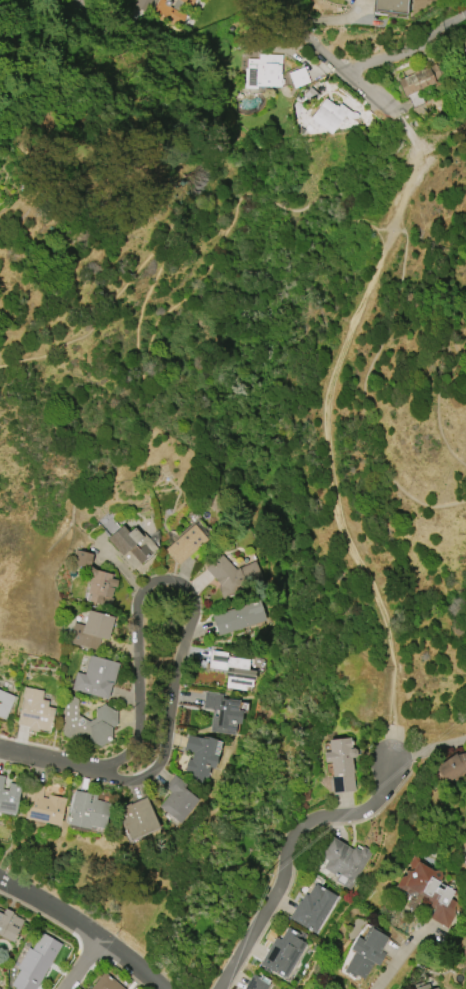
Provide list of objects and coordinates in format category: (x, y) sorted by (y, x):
building: (170, 0)
building: (145, 2)
building: (190, 4)
building: (390, 7)
building: (169, 12)
road: (452, 20)
road: (395, 56)
road: (335, 61)
building: (263, 71)
building: (298, 77)
building: (418, 79)
building: (310, 95)
building: (329, 115)
road: (146, 351)
road: (327, 431)
building: (185, 543)
building: (131, 545)
building: (81, 559)
building: (232, 577)
building: (101, 585)
road: (185, 586)
building: (238, 617)
building: (91, 630)
building: (233, 670)
building: (96, 677)
building: (5, 703)
building: (35, 711)
building: (223, 713)
building: (88, 722)
road: (426, 724)
road: (427, 750)
building: (200, 756)
road: (50, 760)
building: (340, 765)
building: (451, 767)
building: (9, 796)
building: (177, 799)
building: (42, 805)
building: (87, 810)
building: (137, 818)
road: (289, 855)
building: (344, 862)
building: (432, 890)
building: (313, 907)
building: (9, 924)
road: (83, 928)
building: (283, 953)
building: (365, 954)
road: (395, 957)
building: (35, 963)
road: (83, 964)
building: (105, 982)
building: (257, 982)
building: (424, 987)
building: (435, 988)

